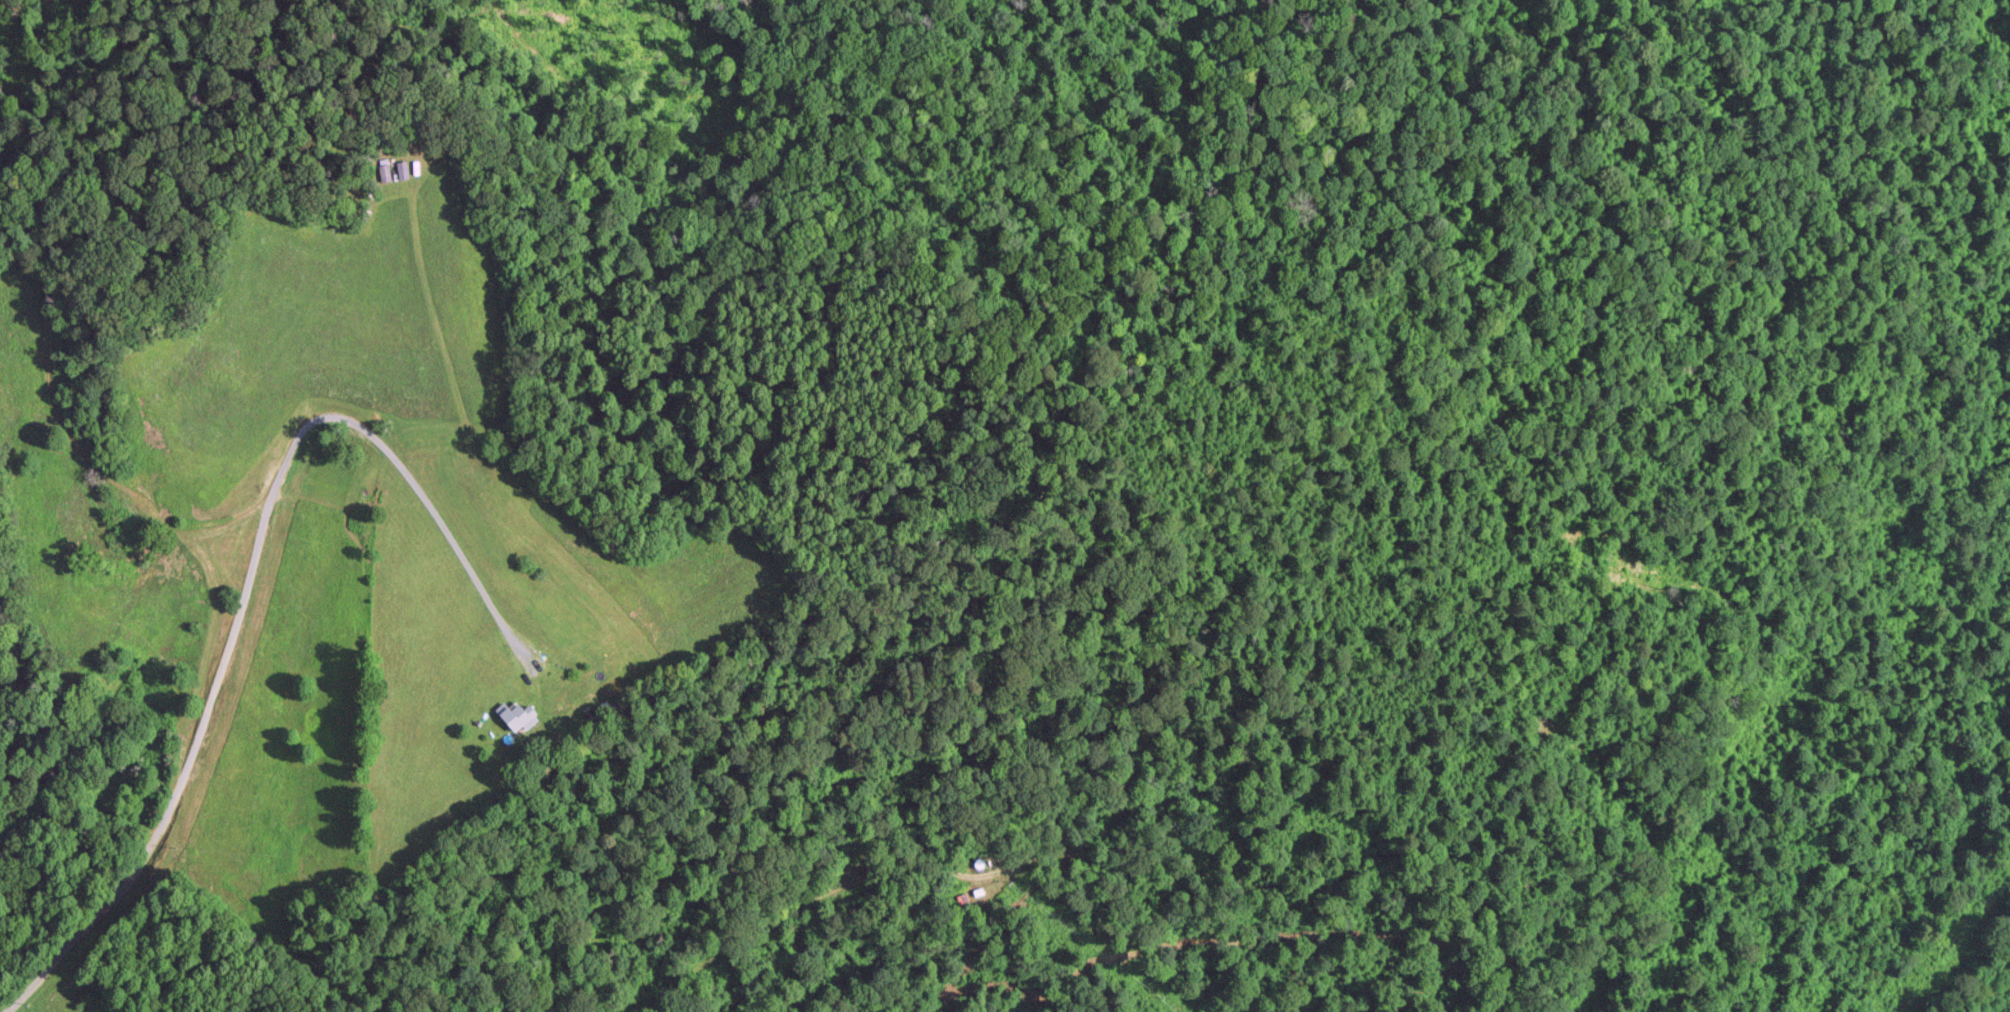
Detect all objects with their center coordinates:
building: (404, 168)
building: (519, 710)
road: (180, 763)
road: (866, 917)

